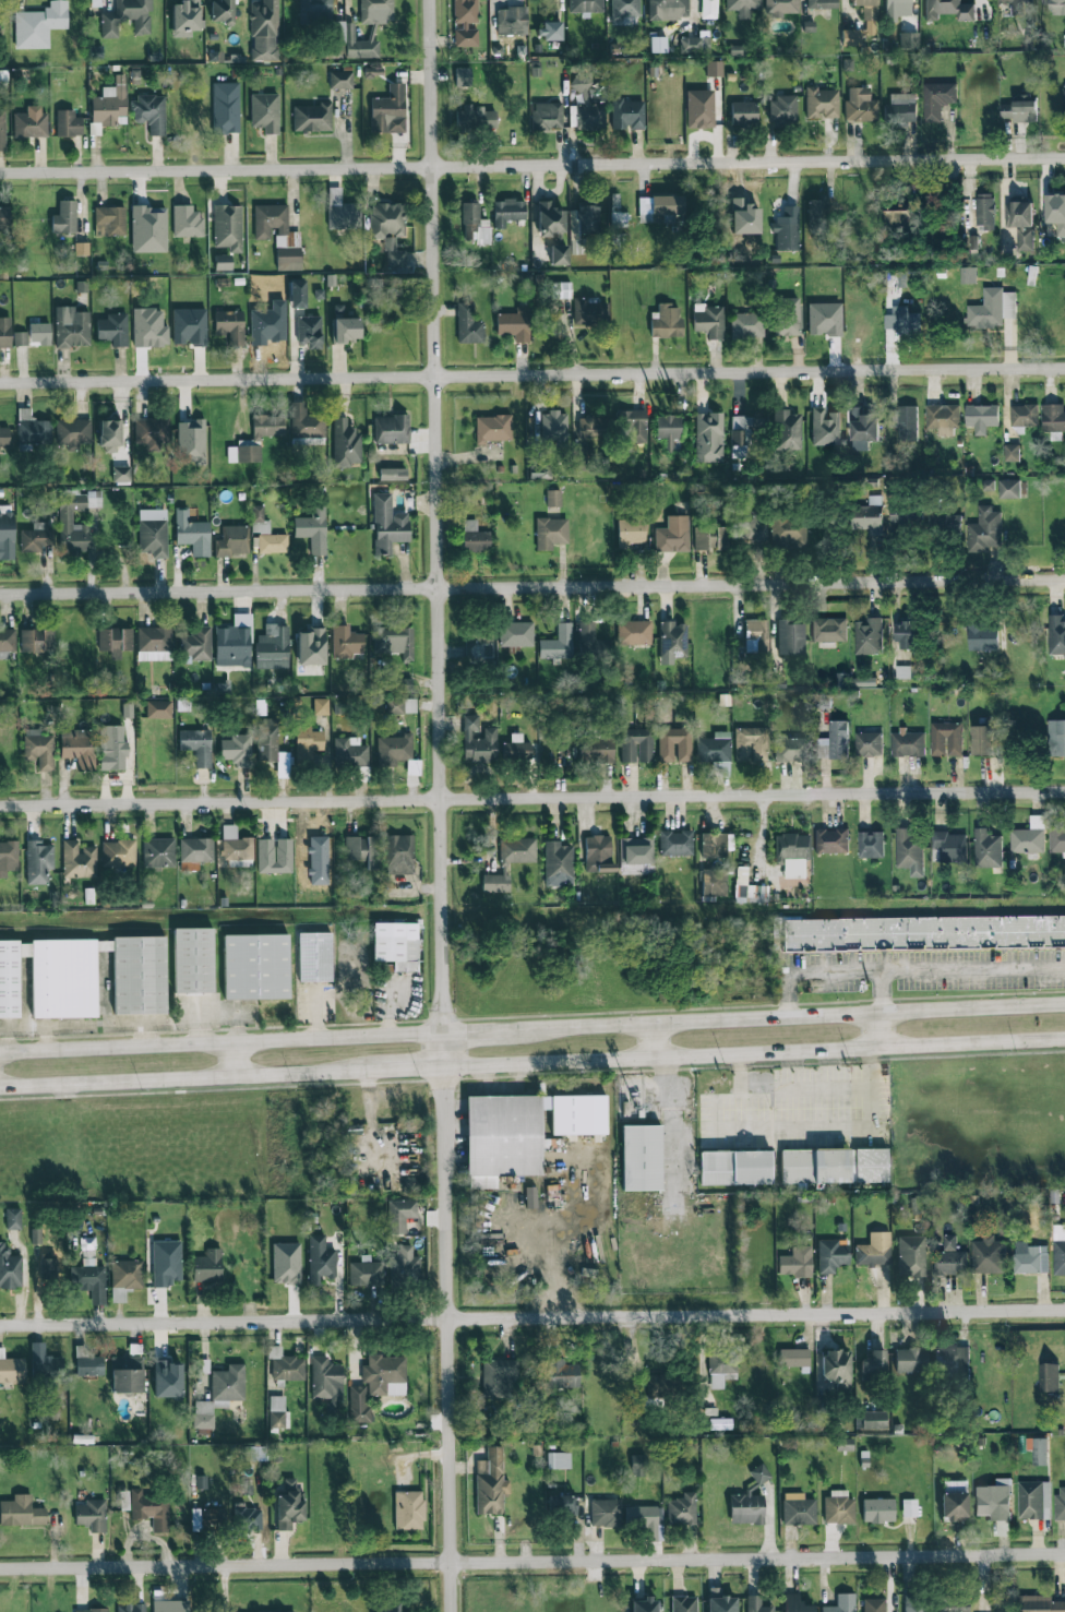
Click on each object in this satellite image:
building: (822, 3)
building: (1015, 3)
building: (585, 5)
building: (742, 7)
building: (897, 7)
building: (780, 8)
building: (1055, 8)
building: (668, 9)
building: (708, 9)
building: (866, 9)
building: (948, 10)
building: (222, 11)
building: (314, 11)
building: (375, 11)
building: (127, 17)
building: (186, 17)
building: (512, 21)
building: (465, 22)
building: (44, 25)
building: (550, 29)
building: (264, 31)
building: (851, 37)
building: (908, 39)
building: (658, 44)
building: (693, 45)
building: (714, 68)
building: (463, 76)
building: (340, 80)
building: (937, 100)
building: (1063, 100)
building: (822, 103)
building: (109, 104)
building: (587, 106)
building: (860, 106)
building: (225, 107)
building: (900, 108)
building: (699, 109)
building: (388, 110)
building: (783, 110)
building: (1020, 110)
building: (149, 112)
building: (264, 112)
building: (743, 112)
building: (627, 114)
building: (547, 116)
building: (312, 117)
building: (475, 118)
building: (31, 122)
building: (68, 123)
building: (2, 129)
road: (532, 166)
building: (658, 207)
building: (342, 212)
building: (507, 212)
building: (985, 212)
building: (618, 213)
building: (821, 214)
building: (744, 216)
building: (1055, 216)
building: (64, 217)
building: (386, 218)
building: (549, 218)
building: (587, 219)
building: (897, 219)
building: (4, 220)
building: (109, 220)
building: (187, 222)
building: (1020, 222)
building: (474, 224)
building: (227, 227)
building: (148, 228)
building: (278, 235)
building: (786, 236)
building: (82, 249)
building: (394, 254)
building: (559, 254)
building: (968, 275)
building: (562, 289)
building: (297, 292)
building: (992, 309)
building: (590, 311)
building: (789, 315)
building: (824, 319)
building: (666, 321)
building: (709, 321)
building: (906, 322)
building: (468, 324)
building: (513, 325)
building: (746, 325)
building: (189, 326)
building: (229, 326)
building: (71, 327)
building: (113, 329)
building: (345, 330)
building: (5, 332)
building: (39, 333)
building: (309, 333)
building: (20, 338)
road: (532, 375)
building: (1024, 416)
building: (981, 418)
building: (943, 419)
building: (1053, 420)
building: (304, 421)
building: (635, 425)
building: (907, 425)
building: (553, 426)
building: (593, 427)
building: (825, 427)
building: (33, 428)
building: (492, 428)
building: (391, 429)
building: (863, 429)
building: (787, 430)
building: (73, 432)
building: (669, 432)
building: (152, 433)
building: (109, 434)
building: (744, 434)
building: (4, 437)
building: (256, 438)
building: (709, 438)
building: (191, 442)
building: (345, 443)
building: (1010, 453)
building: (121, 474)
building: (393, 474)
building: (1009, 489)
building: (552, 498)
building: (65, 516)
building: (870, 516)
building: (906, 516)
building: (949, 523)
building: (387, 524)
building: (312, 530)
building: (984, 530)
building: (7, 532)
building: (153, 532)
building: (741, 532)
building: (789, 532)
building: (191, 533)
building: (550, 533)
building: (631, 533)
building: (266, 534)
building: (672, 535)
building: (37, 537)
building: (475, 537)
building: (699, 538)
building: (710, 538)
building: (232, 540)
road: (531, 589)
building: (828, 630)
building: (634, 632)
building: (515, 634)
building: (908, 635)
building: (1056, 635)
building: (756, 636)
building: (867, 636)
building: (790, 637)
building: (982, 637)
building: (37, 640)
building: (115, 641)
building: (672, 641)
building: (7, 642)
building: (235, 642)
building: (346, 642)
building: (394, 642)
building: (593, 642)
building: (558, 643)
building: (154, 644)
building: (196, 644)
building: (310, 646)
building: (480, 646)
building: (273, 647)
road: (442, 659)
building: (908, 672)
building: (400, 705)
building: (321, 706)
building: (158, 709)
building: (1056, 738)
building: (946, 739)
building: (266, 740)
building: (982, 740)
building: (307, 741)
building: (478, 742)
building: (835, 742)
building: (908, 743)
building: (674, 744)
building: (750, 744)
building: (869, 744)
building: (196, 745)
building: (636, 745)
building: (79, 748)
building: (112, 748)
building: (515, 748)
building: (714, 748)
building: (394, 749)
building: (788, 749)
building: (39, 750)
building: (237, 750)
building: (596, 750)
building: (349, 752)
road: (531, 798)
building: (1028, 838)
building: (830, 840)
building: (1056, 840)
building: (675, 843)
building: (236, 845)
building: (715, 845)
building: (871, 845)
building: (948, 848)
building: (986, 849)
building: (362, 850)
building: (909, 851)
building: (118, 852)
building: (158, 852)
building: (194, 852)
building: (399, 853)
building: (598, 853)
building: (792, 853)
building: (274, 856)
building: (635, 856)
building: (8, 857)
building: (77, 860)
building: (37, 861)
building: (510, 861)
building: (558, 863)
building: (714, 882)
building: (777, 931)
building: (924, 933)
building: (396, 944)
building: (314, 957)
building: (193, 958)
building: (256, 966)
road: (905, 969)
building: (85, 976)
road: (878, 992)
road: (785, 1018)
road: (475, 1031)
road: (879, 1031)
road: (653, 1041)
road: (223, 1043)
road: (755, 1054)
road: (236, 1060)
road: (409, 1070)
road: (186, 1079)
road: (797, 1095)
building: (523, 1130)
building: (641, 1158)
building: (814, 1166)
building: (870, 1166)
building: (734, 1167)
building: (530, 1197)
building: (399, 1215)
building: (13, 1218)
building: (874, 1250)
building: (1058, 1250)
building: (831, 1255)
building: (911, 1256)
building: (989, 1256)
building: (320, 1259)
building: (952, 1259)
building: (1030, 1261)
building: (795, 1262)
building: (166, 1263)
building: (286, 1263)
building: (405, 1265)
building: (207, 1266)
building: (10, 1269)
building: (51, 1269)
building: (366, 1273)
building: (124, 1278)
road: (531, 1317)
building: (793, 1358)
building: (910, 1360)
building: (952, 1360)
building: (87, 1362)
building: (46, 1364)
building: (874, 1364)
building: (285, 1365)
building: (835, 1366)
building: (721, 1368)
building: (11, 1369)
building: (560, 1373)
building: (128, 1374)
building: (384, 1375)
building: (499, 1376)
building: (1049, 1377)
building: (167, 1378)
building: (326, 1380)
building: (661, 1386)
building: (219, 1394)
building: (358, 1404)
building: (277, 1411)
building: (871, 1420)
building: (255, 1453)
building: (558, 1460)
road: (450, 1465)
building: (636, 1465)
building: (759, 1473)
building: (490, 1482)
building: (994, 1501)
building: (1033, 1501)
building: (561, 1504)
building: (1060, 1504)
building: (288, 1505)
building: (954, 1506)
building: (839, 1507)
building: (909, 1507)
building: (746, 1508)
building: (149, 1509)
building: (408, 1509)
building: (682, 1509)
building: (798, 1509)
building: (877, 1510)
building: (21, 1512)
building: (606, 1513)
building: (244, 1514)
building: (92, 1515)
building: (204, 1518)
road: (532, 1561)
building: (720, 1601)
building: (683, 1603)
building: (795, 1603)
building: (841, 1603)
building: (914, 1603)
building: (644, 1604)
building: (756, 1604)
building: (874, 1604)
building: (954, 1604)
building: (1042, 1604)
building: (131, 1608)
building: (391, 1608)
building: (91, 1610)

